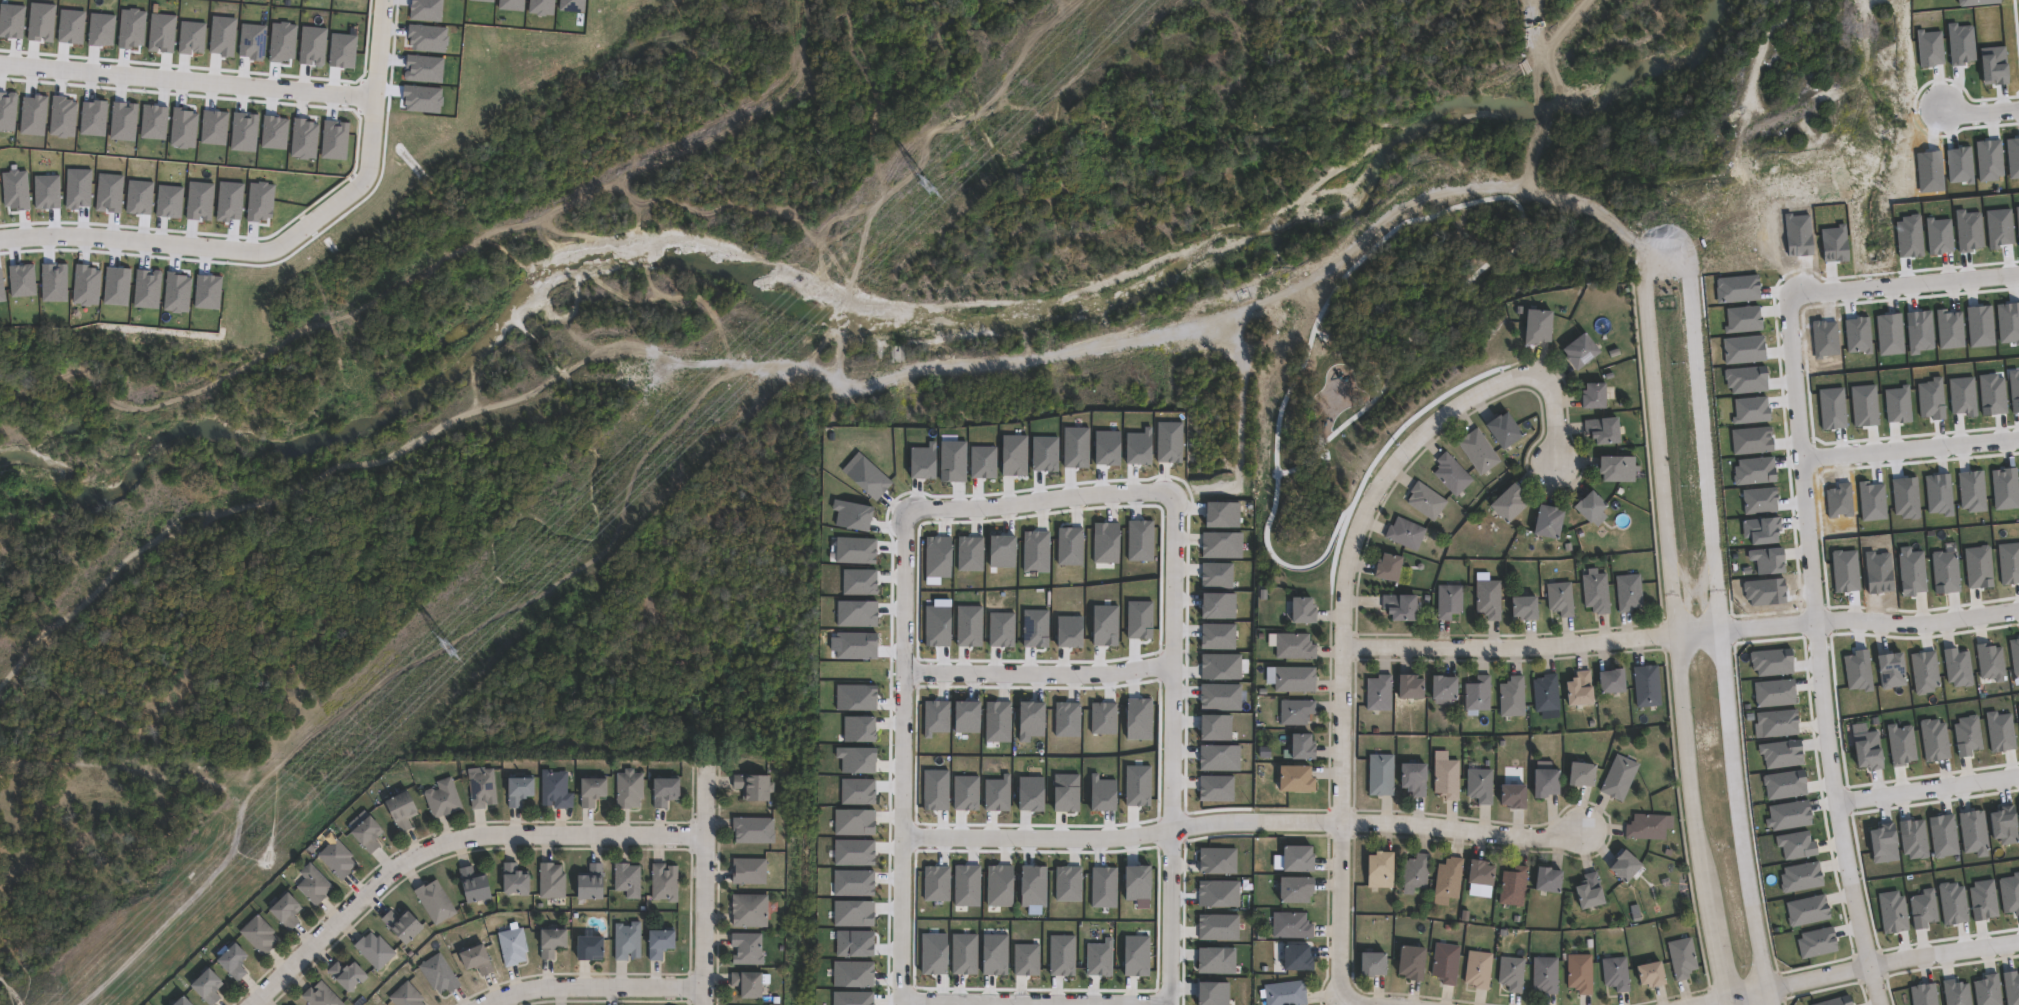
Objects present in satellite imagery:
road: (243, 87)
road: (1980, 113)
power tower: (927, 186)
building: (15, 189)
park: (1408, 223)
road: (239, 257)
road: (1790, 305)
building: (1534, 327)
building: (1577, 351)
building: (1590, 396)
building: (1500, 431)
building: (1602, 431)
road: (1658, 442)
road: (1910, 449)
building: (1477, 451)
building: (1615, 469)
building: (1450, 475)
building: (1425, 501)
road: (1035, 502)
building: (1506, 504)
building: (1587, 507)
building: (1545, 523)
building: (1404, 534)
building: (1384, 568)
road: (1718, 590)
building: (1594, 593)
building: (1628, 593)
road: (1343, 596)
building: (1487, 599)
building: (1559, 599)
building: (1447, 602)
building: (1397, 608)
building: (1521, 609)
building: (1299, 611)
road: (1847, 621)
power tower: (447, 647)
building: (1293, 647)
road: (1509, 647)
road: (1167, 660)
road: (1033, 672)
road: (899, 674)
building: (1609, 679)
building: (1292, 680)
building: (1407, 685)
building: (1646, 685)
building: (1577, 687)
building: (1440, 688)
building: (1377, 692)
building: (1545, 692)
building: (1476, 693)
building: (1511, 696)
building: (1294, 713)
building: (1298, 748)
building: (1578, 773)
building: (1379, 774)
road: (1831, 774)
building: (1410, 777)
building: (1618, 777)
building: (1445, 778)
building: (1542, 779)
building: (1291, 781)
building: (1478, 785)
building: (751, 787)
building: (481, 788)
road: (1927, 788)
building: (555, 790)
building: (628, 790)
building: (518, 791)
building: (591, 791)
building: (664, 792)
building: (1510, 794)
building: (442, 799)
road: (1738, 810)
building: (401, 811)
road: (1693, 821)
road: (1242, 824)
building: (1645, 826)
building: (752, 831)
building: (366, 835)
road: (447, 843)
park: (140, 853)
building: (1294, 857)
building: (337, 859)
building: (1622, 865)
building: (1376, 869)
building: (748, 871)
building: (1477, 871)
building: (1413, 872)
building: (1545, 878)
building: (514, 879)
building: (551, 880)
building: (627, 880)
building: (1446, 880)
building: (590, 883)
building: (664, 883)
building: (313, 885)
building: (473, 885)
building: (1512, 885)
road: (703, 887)
building: (1291, 888)
building: (1587, 891)
building: (434, 902)
building: (286, 911)
building: (748, 911)
road: (900, 918)
road: (1165, 919)
building: (402, 925)
building: (1289, 925)
building: (259, 936)
building: (627, 941)
building: (551, 943)
building: (659, 943)
building: (513, 947)
building: (589, 948)
building: (746, 949)
building: (374, 950)
building: (1293, 956)
building: (1681, 957)
building: (476, 960)
building: (1408, 961)
building: (232, 962)
building: (1444, 962)
building: (1368, 963)
building: (1477, 969)
road: (1857, 969)
building: (1510, 973)
building: (1579, 973)
building: (1614, 973)
building: (1648, 973)
building: (1544, 974)
building: (346, 976)
building: (438, 976)
building: (747, 985)
building: (207, 987)
road: (592, 988)
building: (1283, 993)
building: (320, 995)
building: (406, 996)
road: (1772, 997)
road: (1034, 1000)
building: (182, 1002)
road: (1356, 1002)

